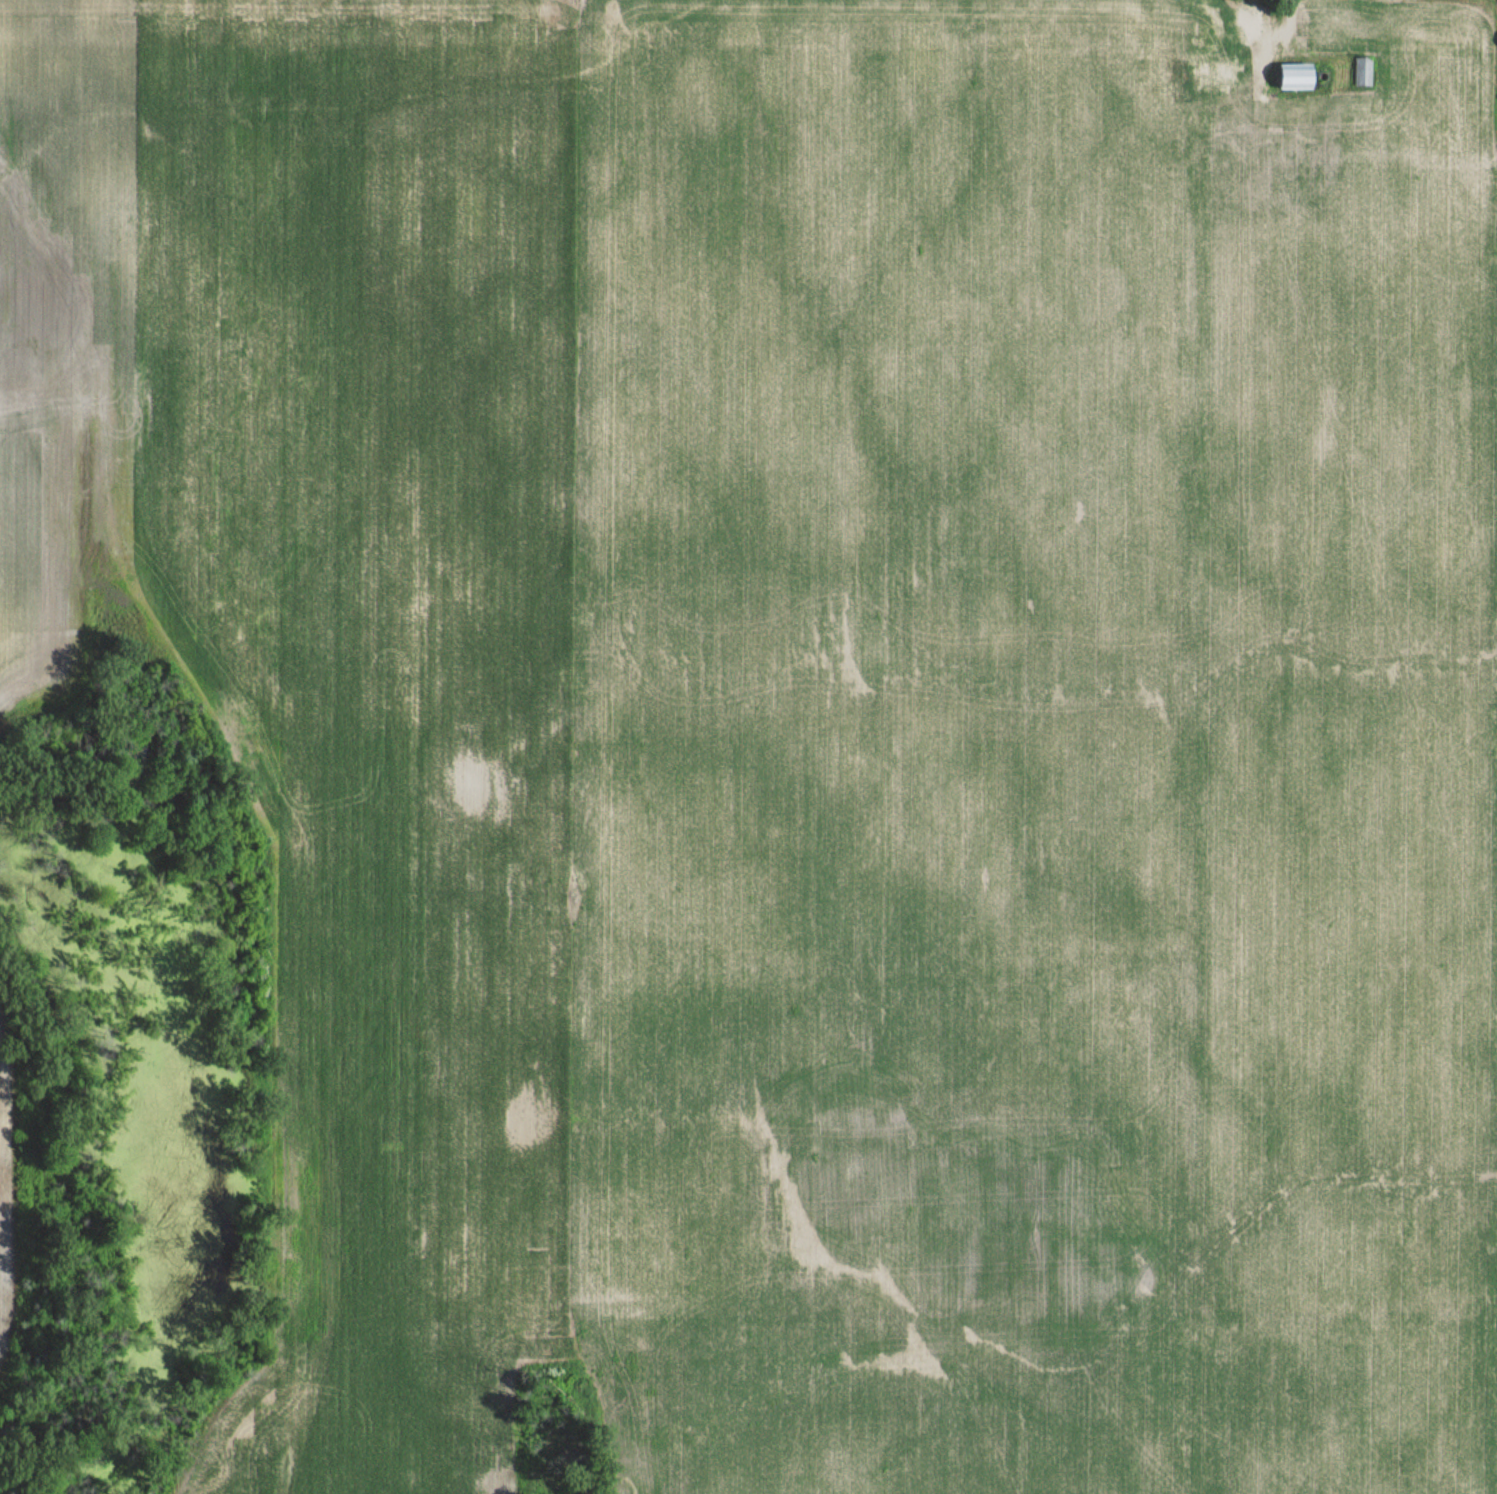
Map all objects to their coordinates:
building: (1250, 20)
building: (1364, 71)
building: (1300, 76)

